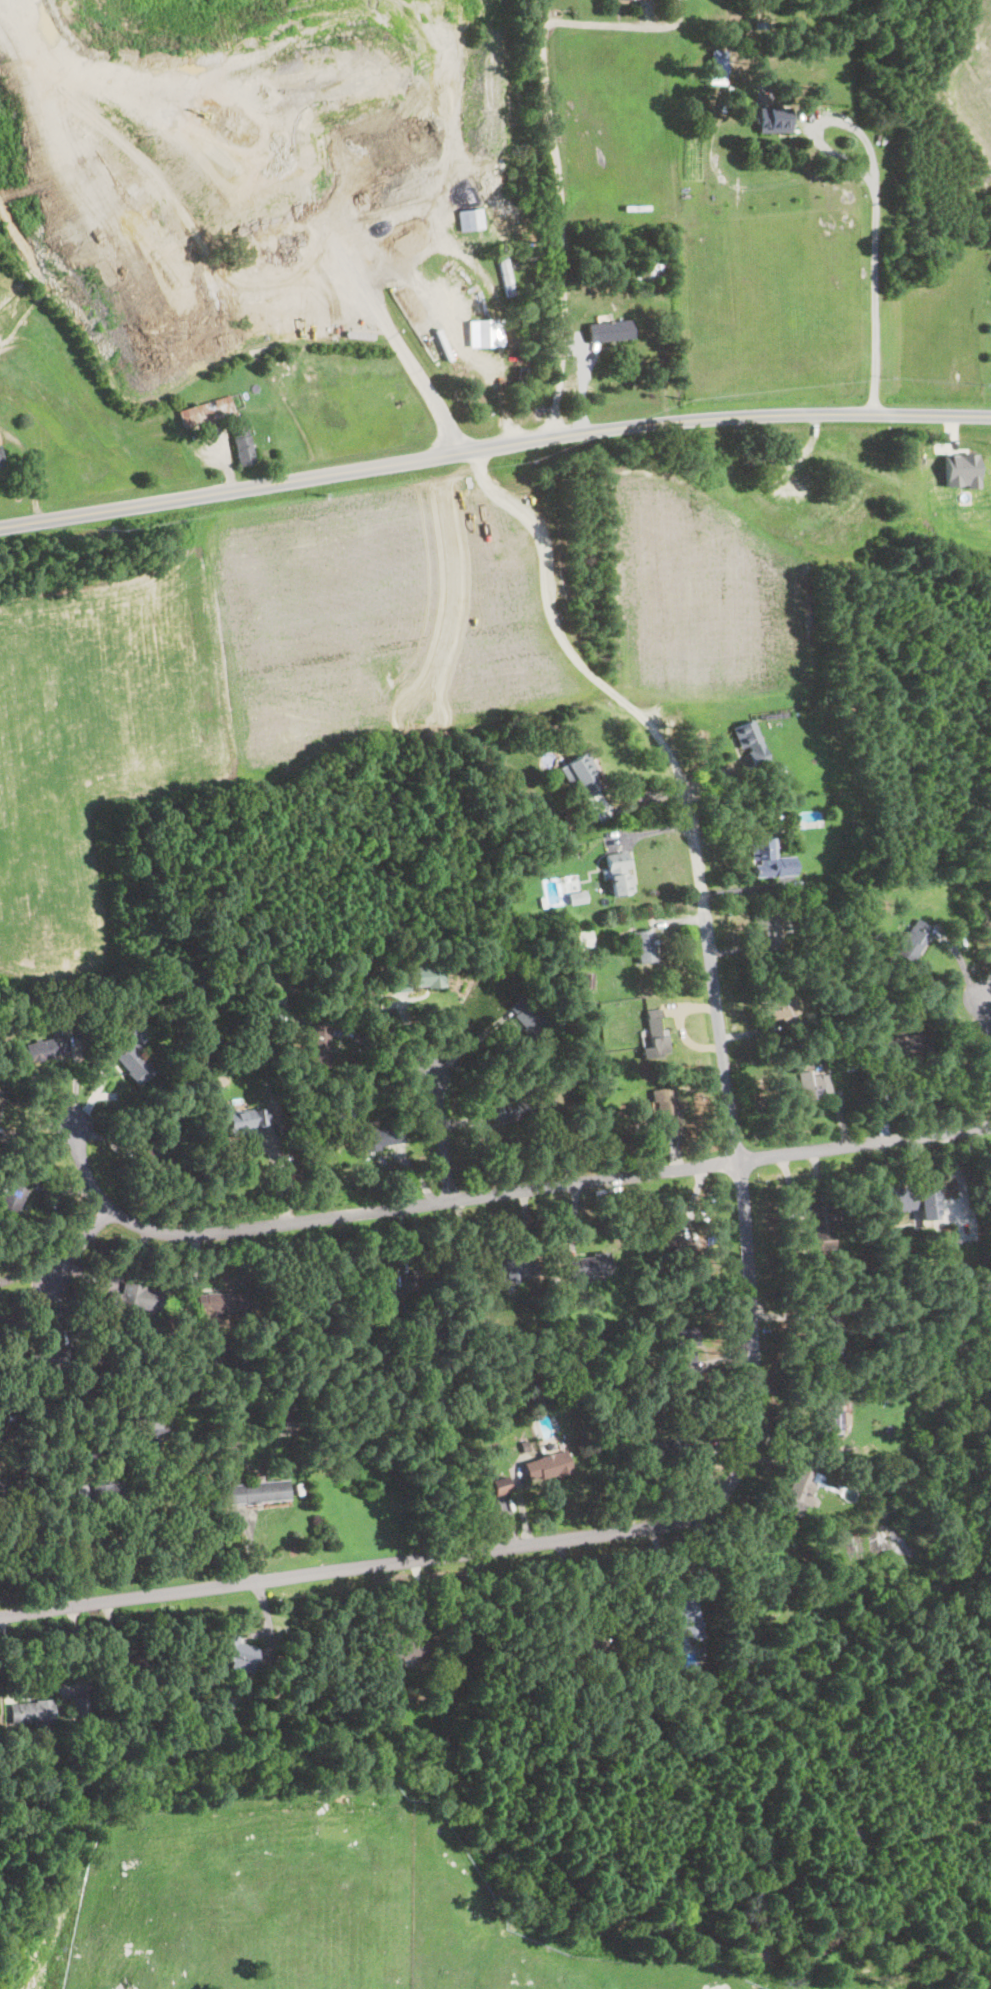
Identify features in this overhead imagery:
building: (630, 0)
road: (622, 26)
building: (720, 64)
road: (821, 120)
building: (774, 121)
building: (515, 218)
road: (560, 218)
building: (473, 220)
building: (522, 244)
building: (652, 269)
building: (507, 276)
road: (876, 299)
building: (208, 306)
building: (611, 332)
building: (486, 334)
road: (395, 335)
road: (452, 337)
building: (207, 412)
building: (196, 436)
building: (0, 443)
building: (244, 445)
road: (493, 446)
building: (1, 463)
building: (961, 470)
building: (791, 488)
road: (454, 591)
road: (588, 669)
building: (749, 742)
building: (582, 775)
building: (771, 860)
building: (619, 875)
building: (801, 893)
building: (579, 899)
building: (770, 929)
building: (582, 939)
building: (913, 941)
building: (646, 947)
building: (865, 950)
building: (416, 959)
building: (356, 965)
building: (416, 979)
building: (588, 982)
building: (202, 983)
building: (189, 992)
building: (867, 998)
building: (285, 1001)
building: (167, 1003)
building: (784, 1013)
building: (529, 1020)
building: (73, 1021)
building: (161, 1021)
building: (82, 1031)
building: (656, 1036)
building: (143, 1038)
road: (985, 1040)
building: (905, 1041)
road: (469, 1046)
building: (320, 1047)
building: (48, 1051)
road: (382, 1051)
building: (841, 1051)
building: (131, 1054)
building: (574, 1074)
building: (813, 1086)
building: (1, 1096)
building: (366, 1096)
building: (523, 1108)
building: (758, 1108)
building: (668, 1111)
building: (246, 1121)
building: (377, 1137)
road: (441, 1137)
building: (479, 1141)
building: (160, 1157)
road: (502, 1192)
building: (12, 1199)
building: (911, 1202)
building: (863, 1223)
building: (823, 1224)
road: (82, 1244)
building: (669, 1248)
building: (911, 1255)
building: (589, 1267)
building: (514, 1268)
building: (414, 1281)
building: (814, 1286)
building: (387, 1292)
building: (132, 1299)
building: (223, 1304)
building: (927, 1307)
building: (485, 1331)
building: (828, 1333)
building: (229, 1345)
building: (687, 1346)
building: (50, 1360)
building: (659, 1376)
building: (557, 1388)
building: (539, 1405)
building: (285, 1411)
building: (11, 1418)
building: (831, 1419)
building: (149, 1425)
building: (609, 1425)
building: (798, 1427)
building: (682, 1430)
building: (526, 1447)
building: (664, 1450)
road: (116, 1453)
road: (749, 1466)
building: (549, 1467)
building: (910, 1470)
building: (886, 1474)
building: (501, 1487)
building: (802, 1490)
building: (259, 1493)
building: (107, 1494)
building: (0, 1496)
road: (559, 1588)
building: (683, 1621)
building: (607, 1642)
building: (407, 1648)
building: (235, 1652)
building: (700, 1652)
building: (136, 1669)
building: (725, 1688)
building: (107, 1692)
building: (78, 1706)
building: (33, 1713)

